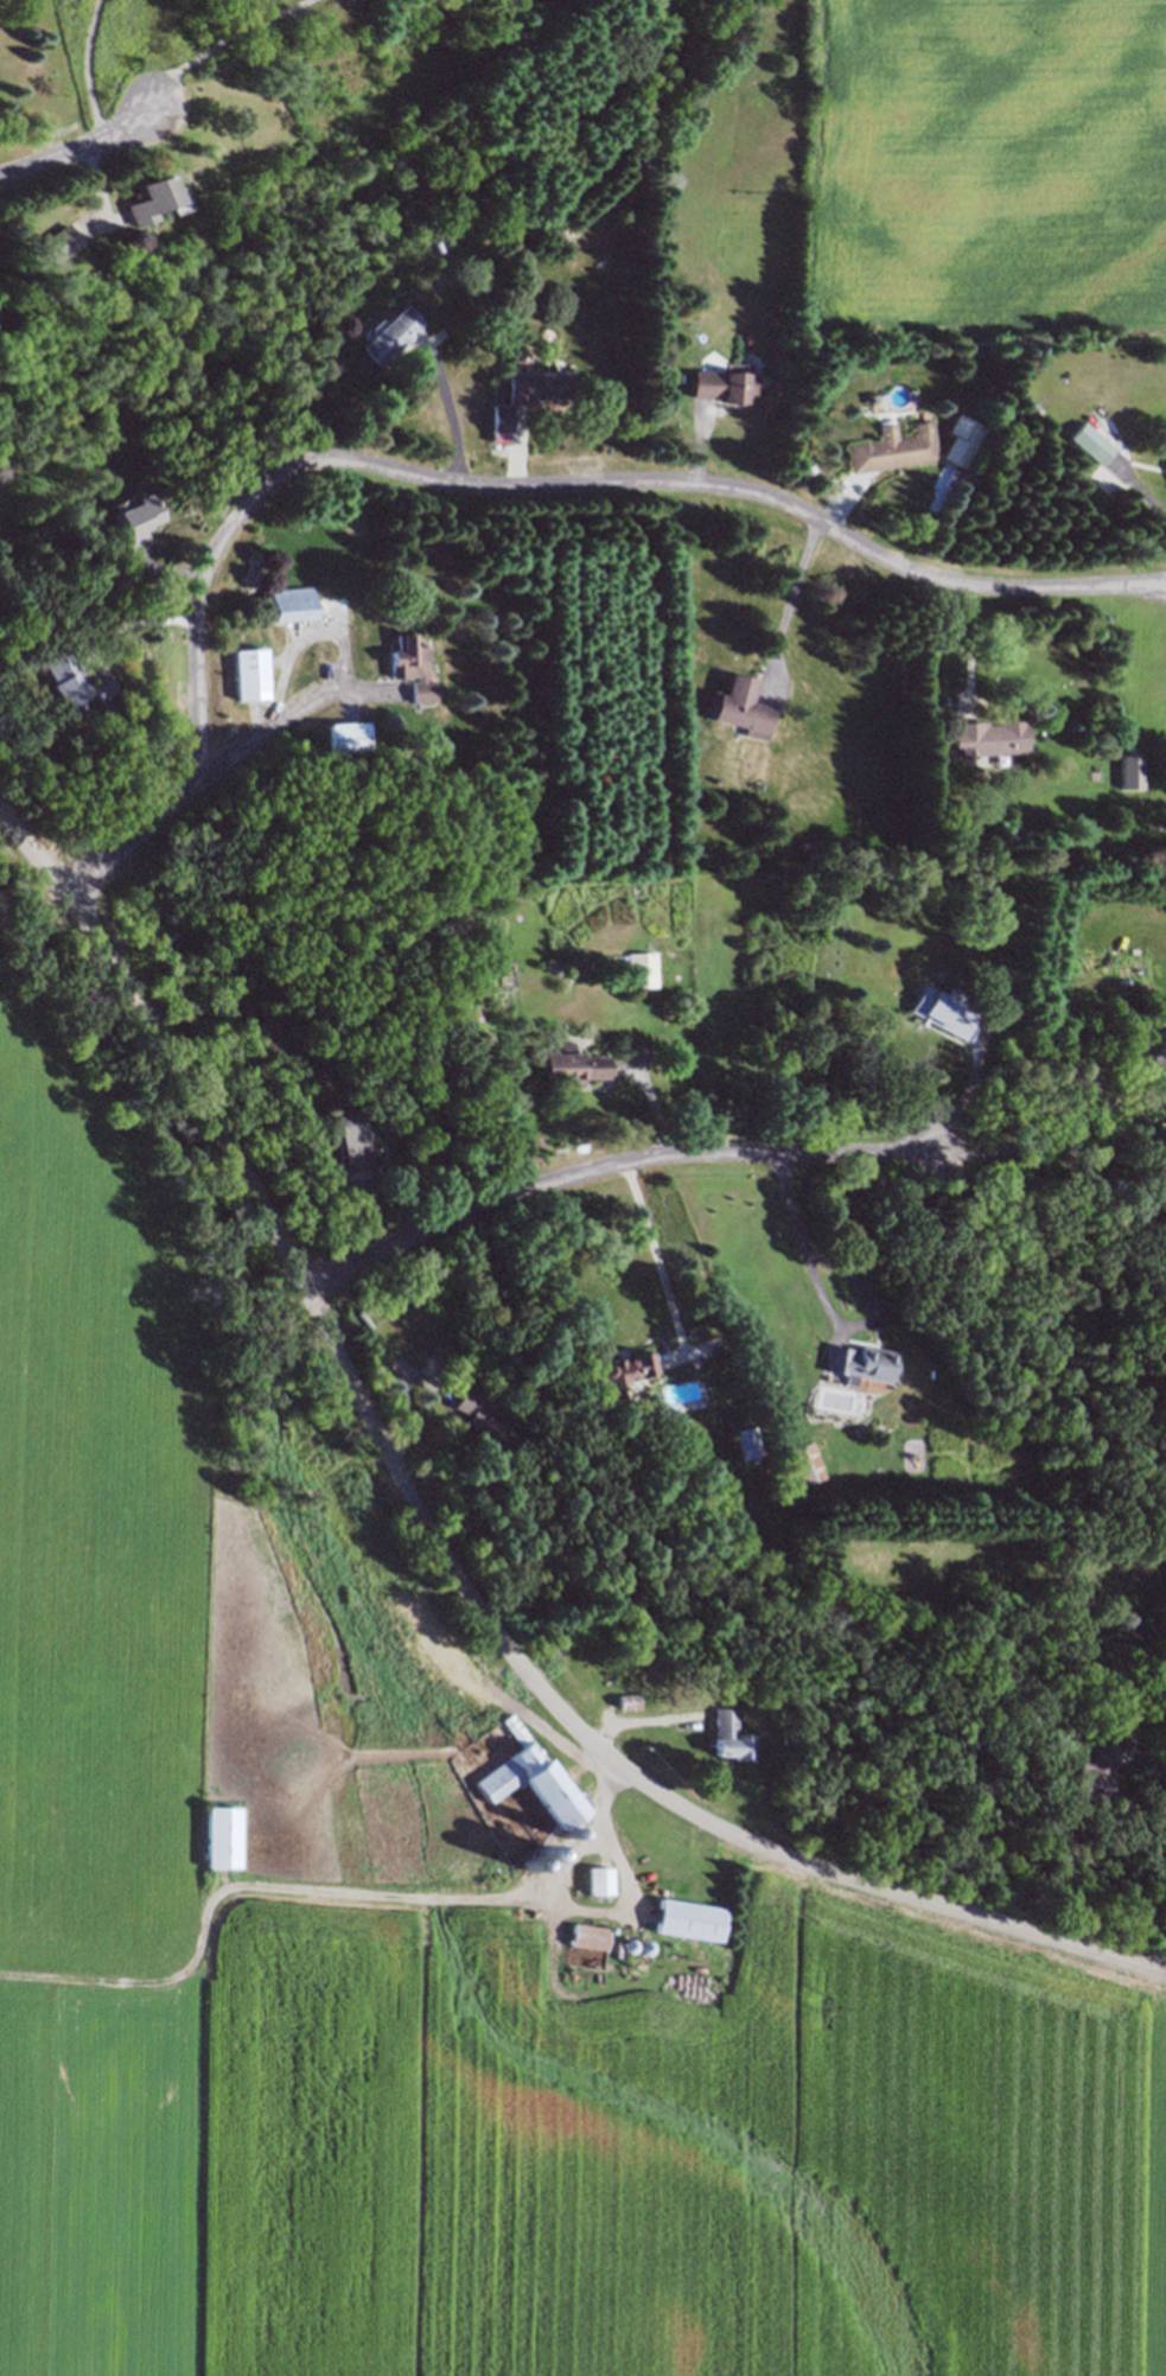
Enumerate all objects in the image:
road: (222, 42)
road: (84, 70)
road: (82, 146)
crop: (988, 166)
building: (152, 200)
building: (548, 231)
building: (55, 243)
building: (387, 338)
building: (977, 348)
building: (724, 384)
building: (529, 395)
road: (450, 409)
building: (1094, 442)
building: (892, 448)
road: (562, 484)
building: (130, 518)
road: (789, 604)
building: (289, 609)
road: (969, 650)
building: (413, 669)
building: (249, 677)
building: (74, 680)
building: (744, 706)
building: (349, 739)
building: (987, 740)
road: (197, 785)
building: (643, 968)
building: (943, 1008)
building: (572, 1064)
road: (966, 1091)
road: (1068, 1115)
building: (356, 1139)
road: (620, 1165)
road: (798, 1244)
road: (654, 1257)
building: (452, 1358)
building: (859, 1363)
building: (624, 1370)
building: (493, 1421)
building: (747, 1441)
building: (805, 1463)
road: (441, 1555)
building: (627, 1699)
building: (732, 1734)
building: (1095, 1770)
building: (536, 1783)
building: (224, 1836)
road: (1158, 1856)
building: (599, 1881)
building: (692, 1923)
building: (590, 1937)
crop: (432, 1949)

